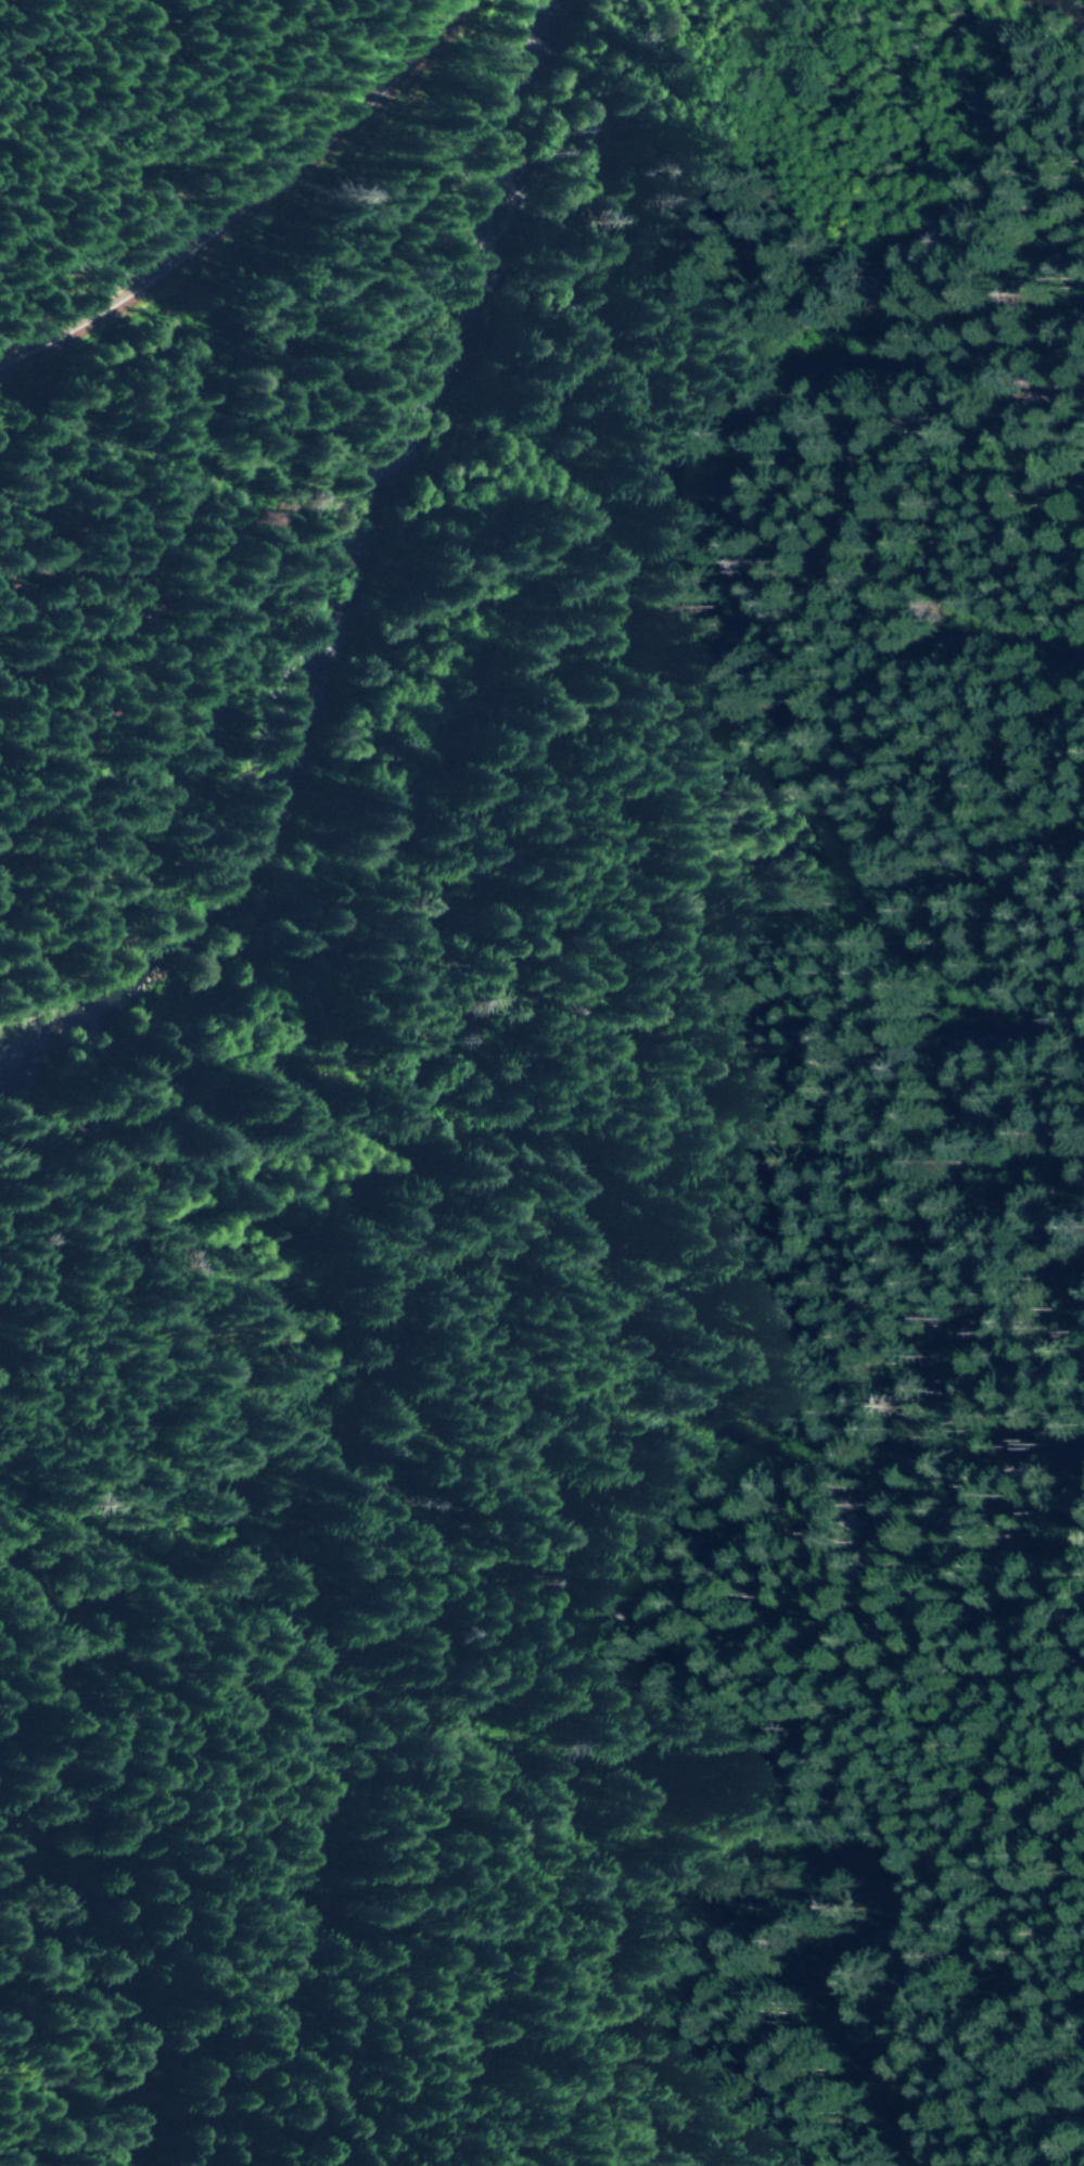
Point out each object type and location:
road: (259, 218)
road: (876, 375)
road: (63, 583)
river: (360, 588)
road: (881, 612)
road: (394, 934)

